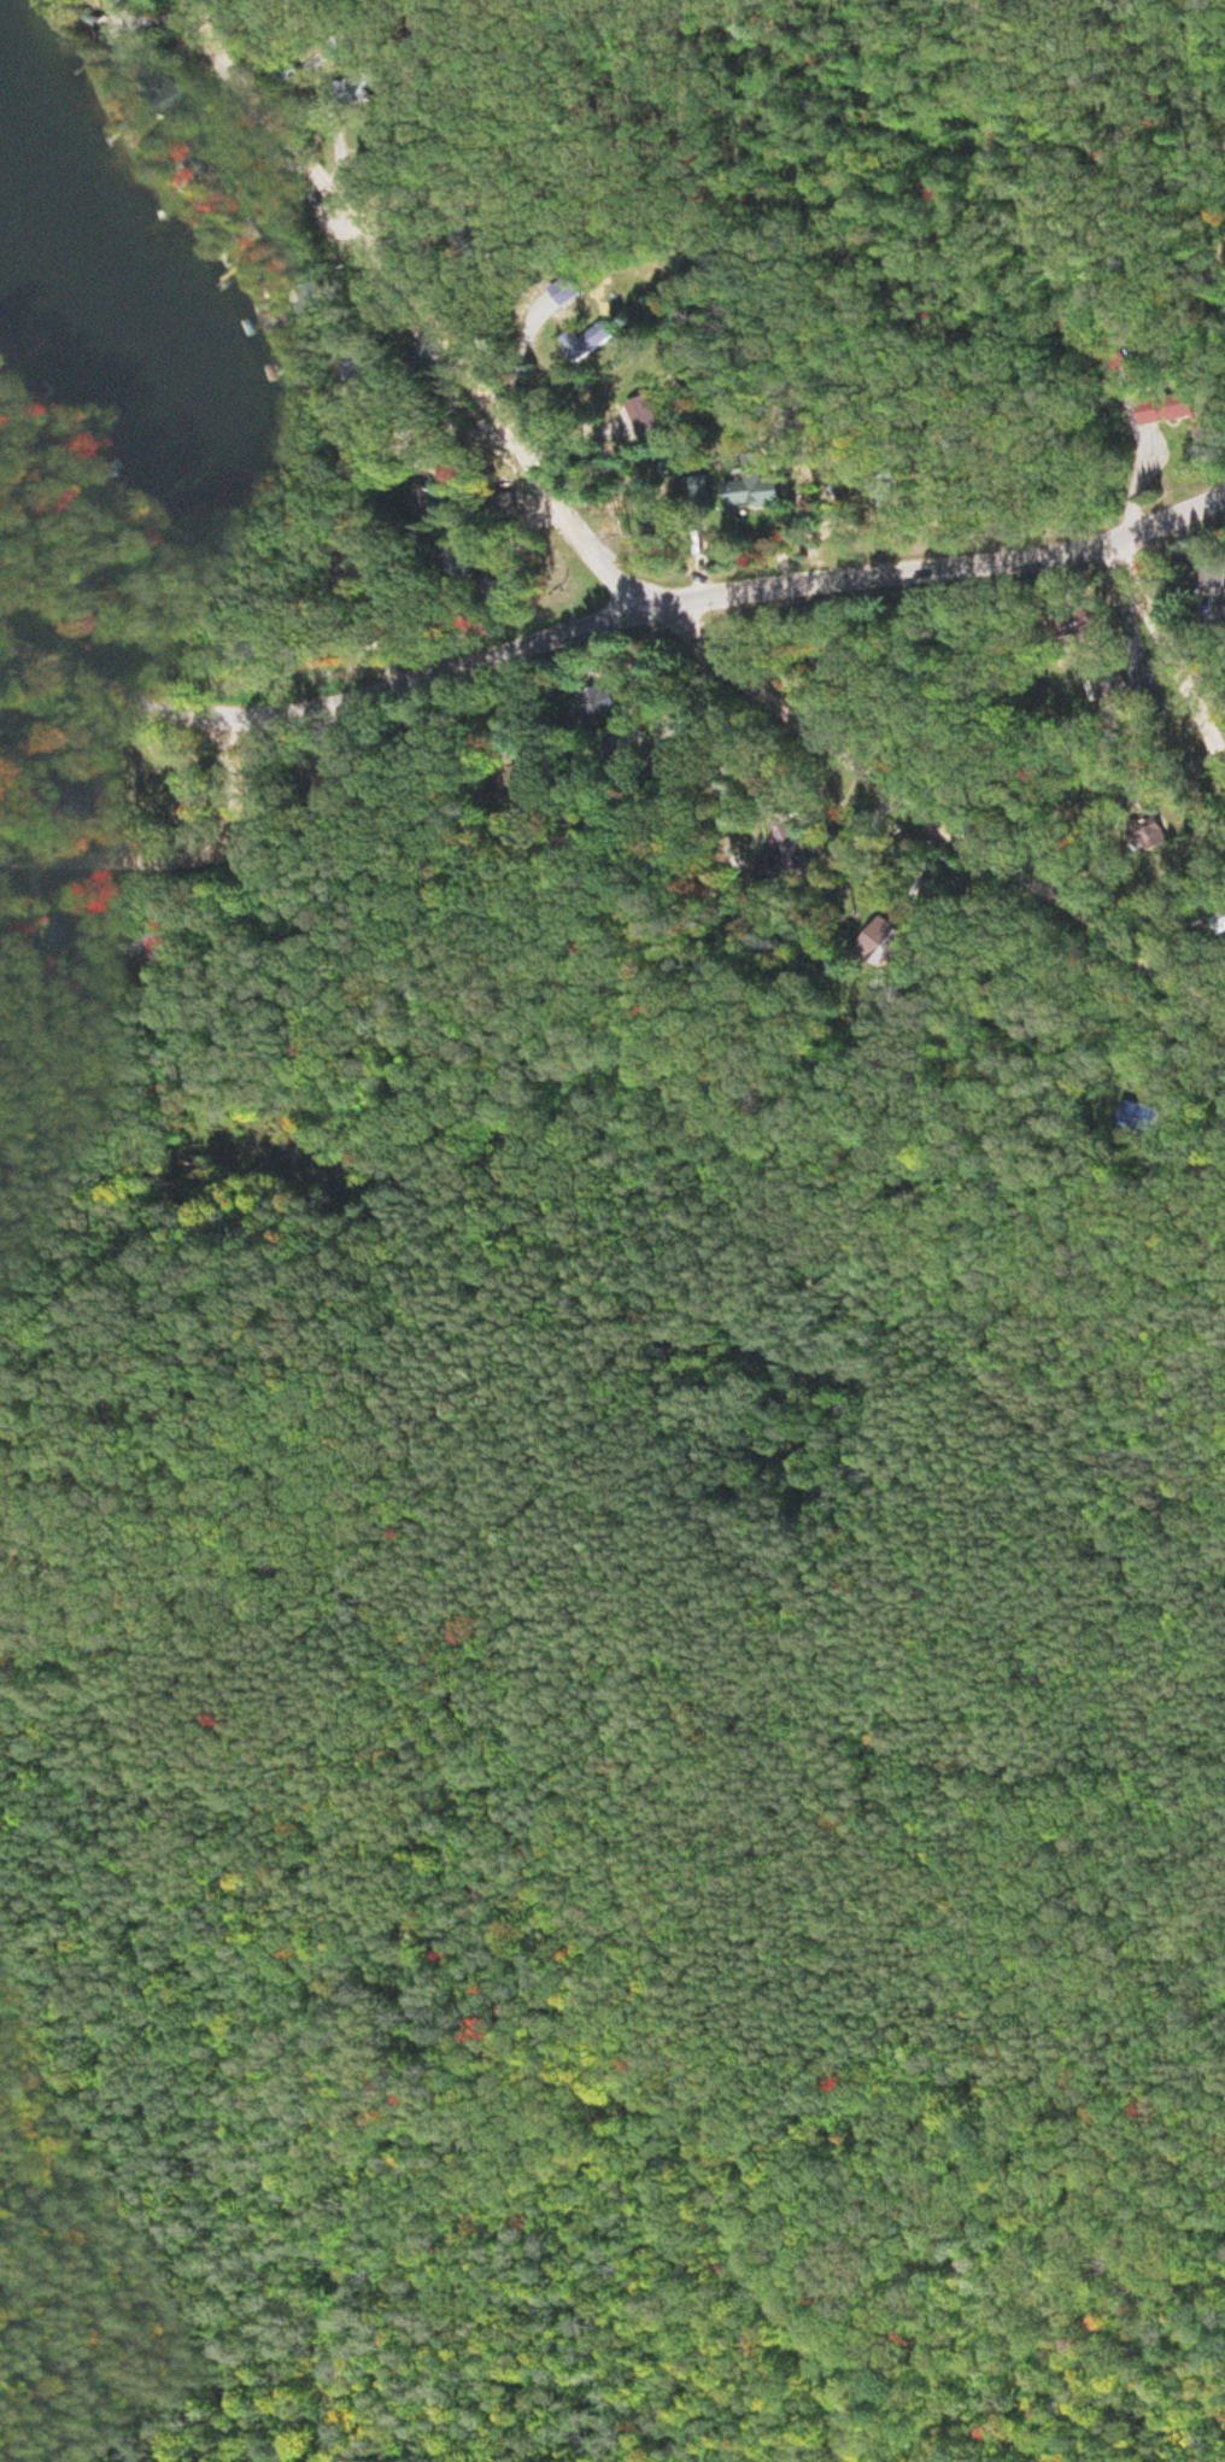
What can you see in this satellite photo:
building: (368, 92)
building: (594, 344)
building: (1184, 411)
building: (651, 419)
building: (761, 495)
building: (429, 503)
road: (647, 577)
road: (606, 603)
road: (1174, 627)
building: (1135, 689)
road: (241, 773)
road: (122, 842)
building: (799, 854)
road: (740, 1193)

